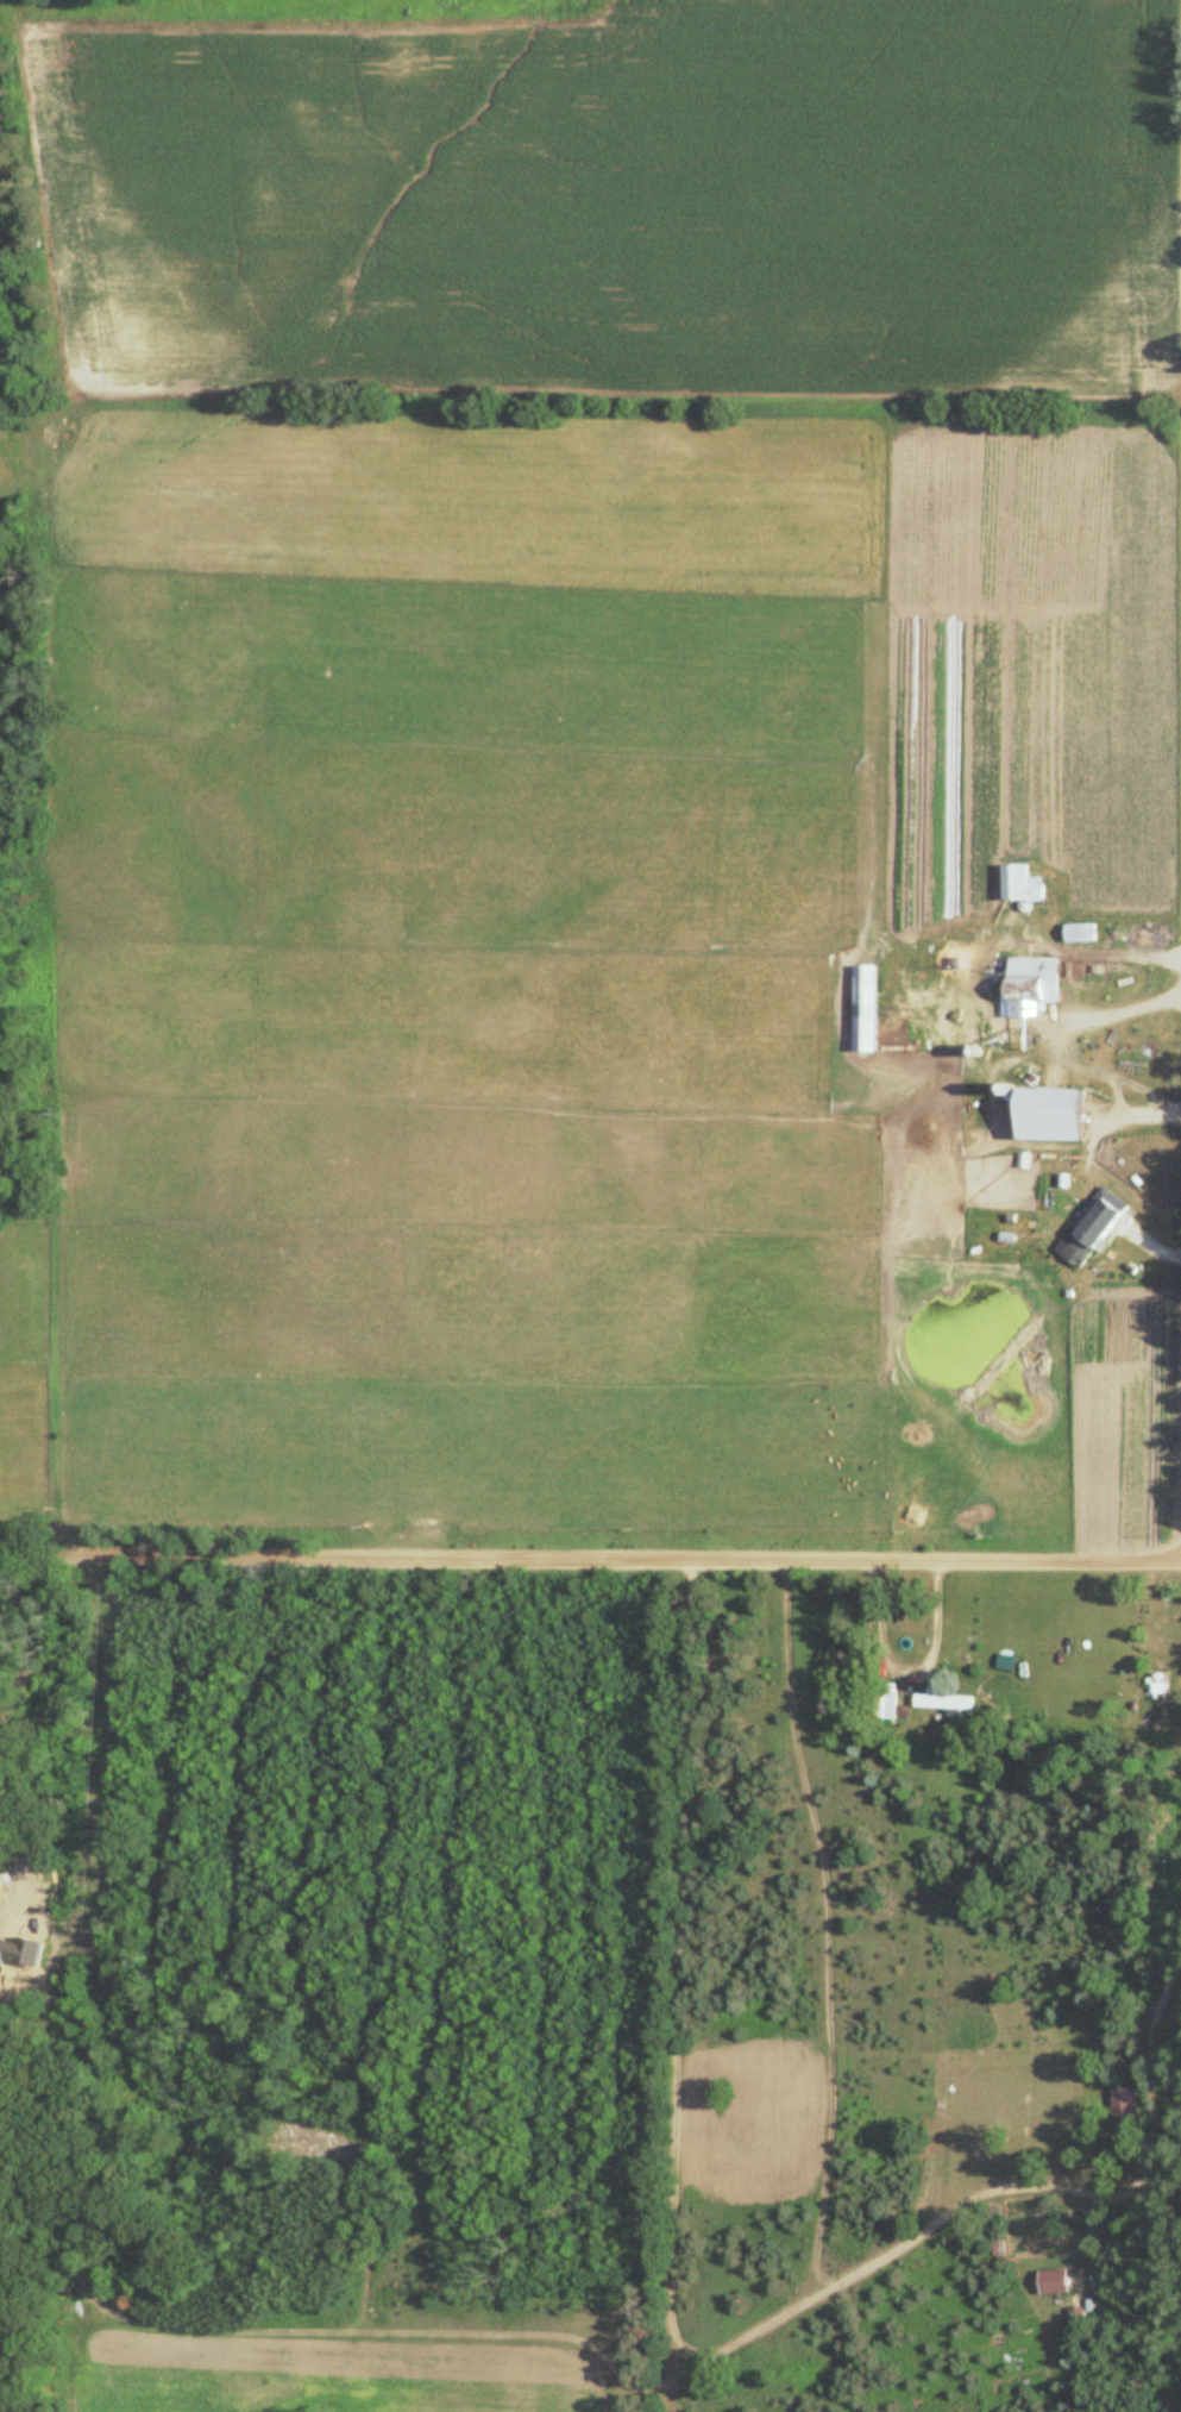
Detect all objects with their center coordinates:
building: (1012, 882)
building: (1078, 932)
building: (949, 947)
building: (990, 1001)
building: (861, 1009)
building: (1087, 1226)
road: (590, 1555)
building: (881, 1700)
building: (937, 1700)
building: (1119, 2101)

